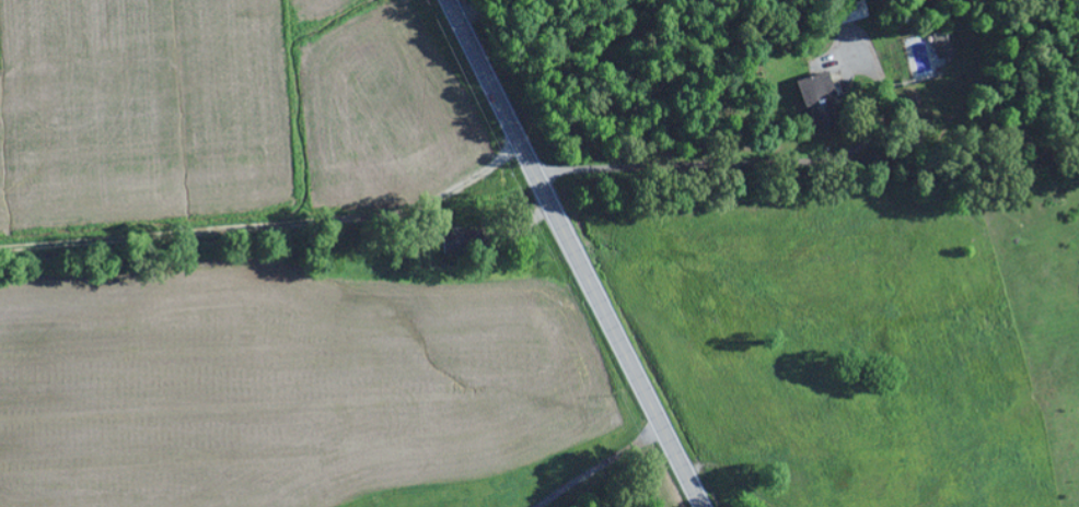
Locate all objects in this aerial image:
building: (848, 12)
building: (942, 45)
building: (812, 90)
building: (452, 241)
road: (573, 253)

